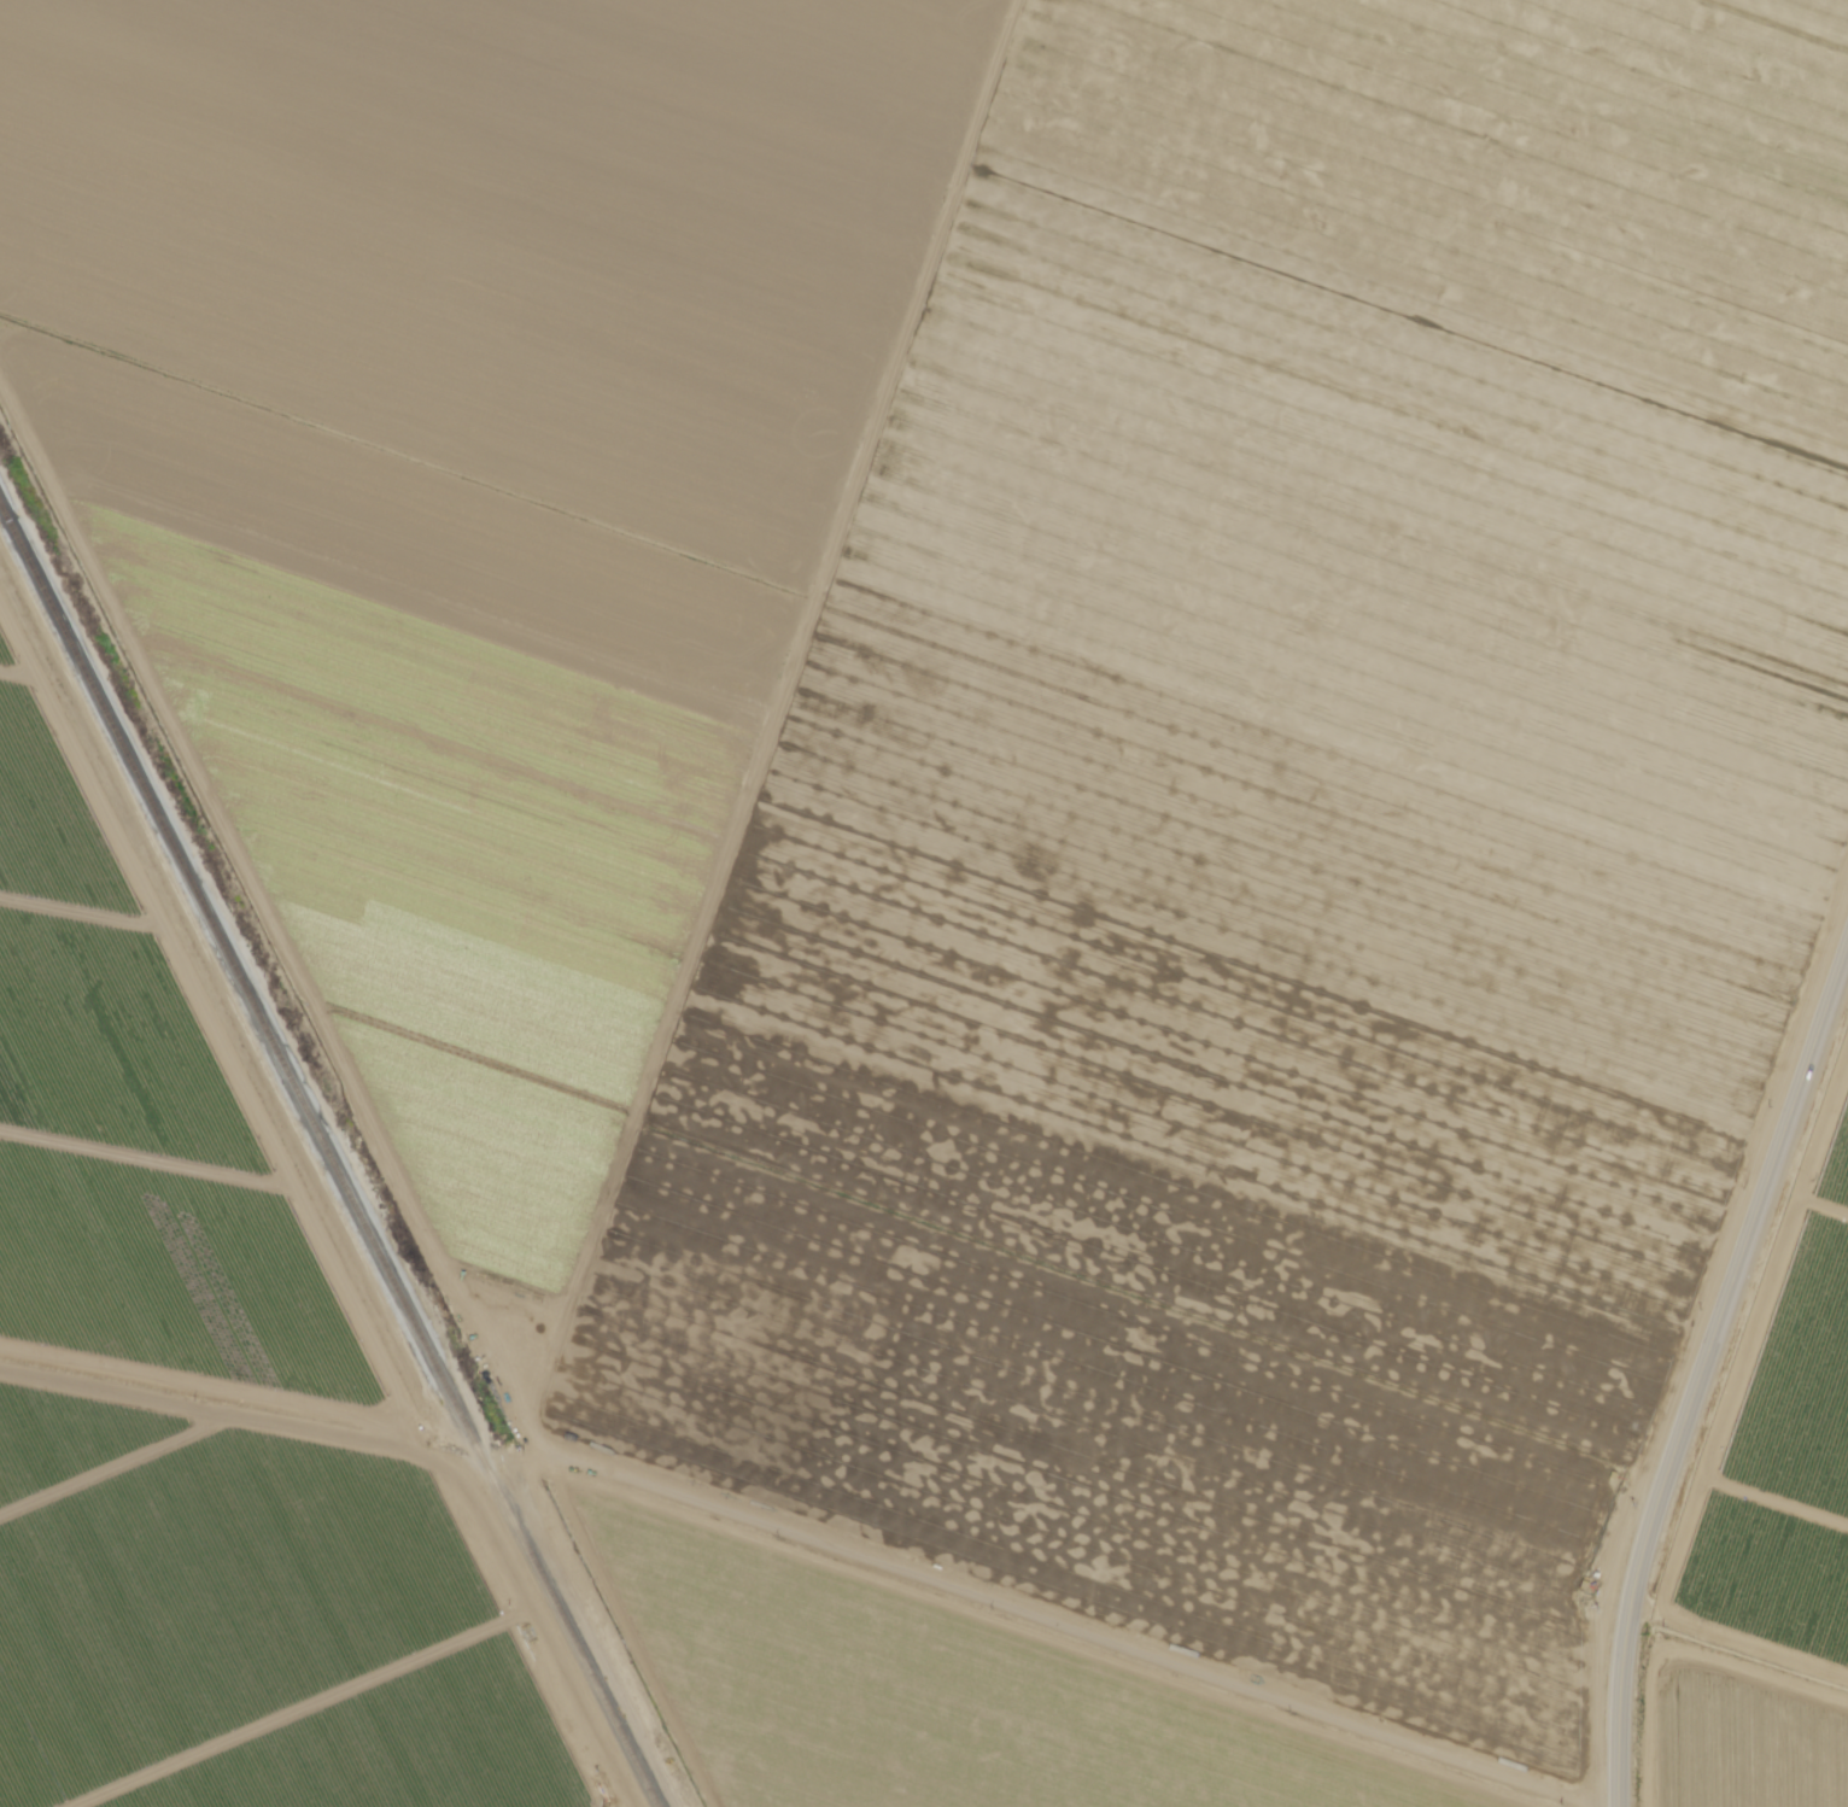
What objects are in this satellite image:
crop: (1619, 80)
crop: (714, 81)
crop: (441, 247)
crop: (1421, 264)
crop: (402, 554)
crop: (1365, 573)
crop: (16, 635)
crop: (63, 813)
crop: (1283, 869)
crop: (444, 882)
crop: (122, 1040)
railway: (329, 1156)
crop: (1185, 1157)
crop: (487, 1187)
crop: (183, 1271)
road: (1700, 1361)
crop: (1783, 1431)
crop: (1094, 1460)
road: (772, 1543)
crop: (250, 1626)
road: (1737, 1642)
crop: (930, 1696)
crop: (1744, 1743)

